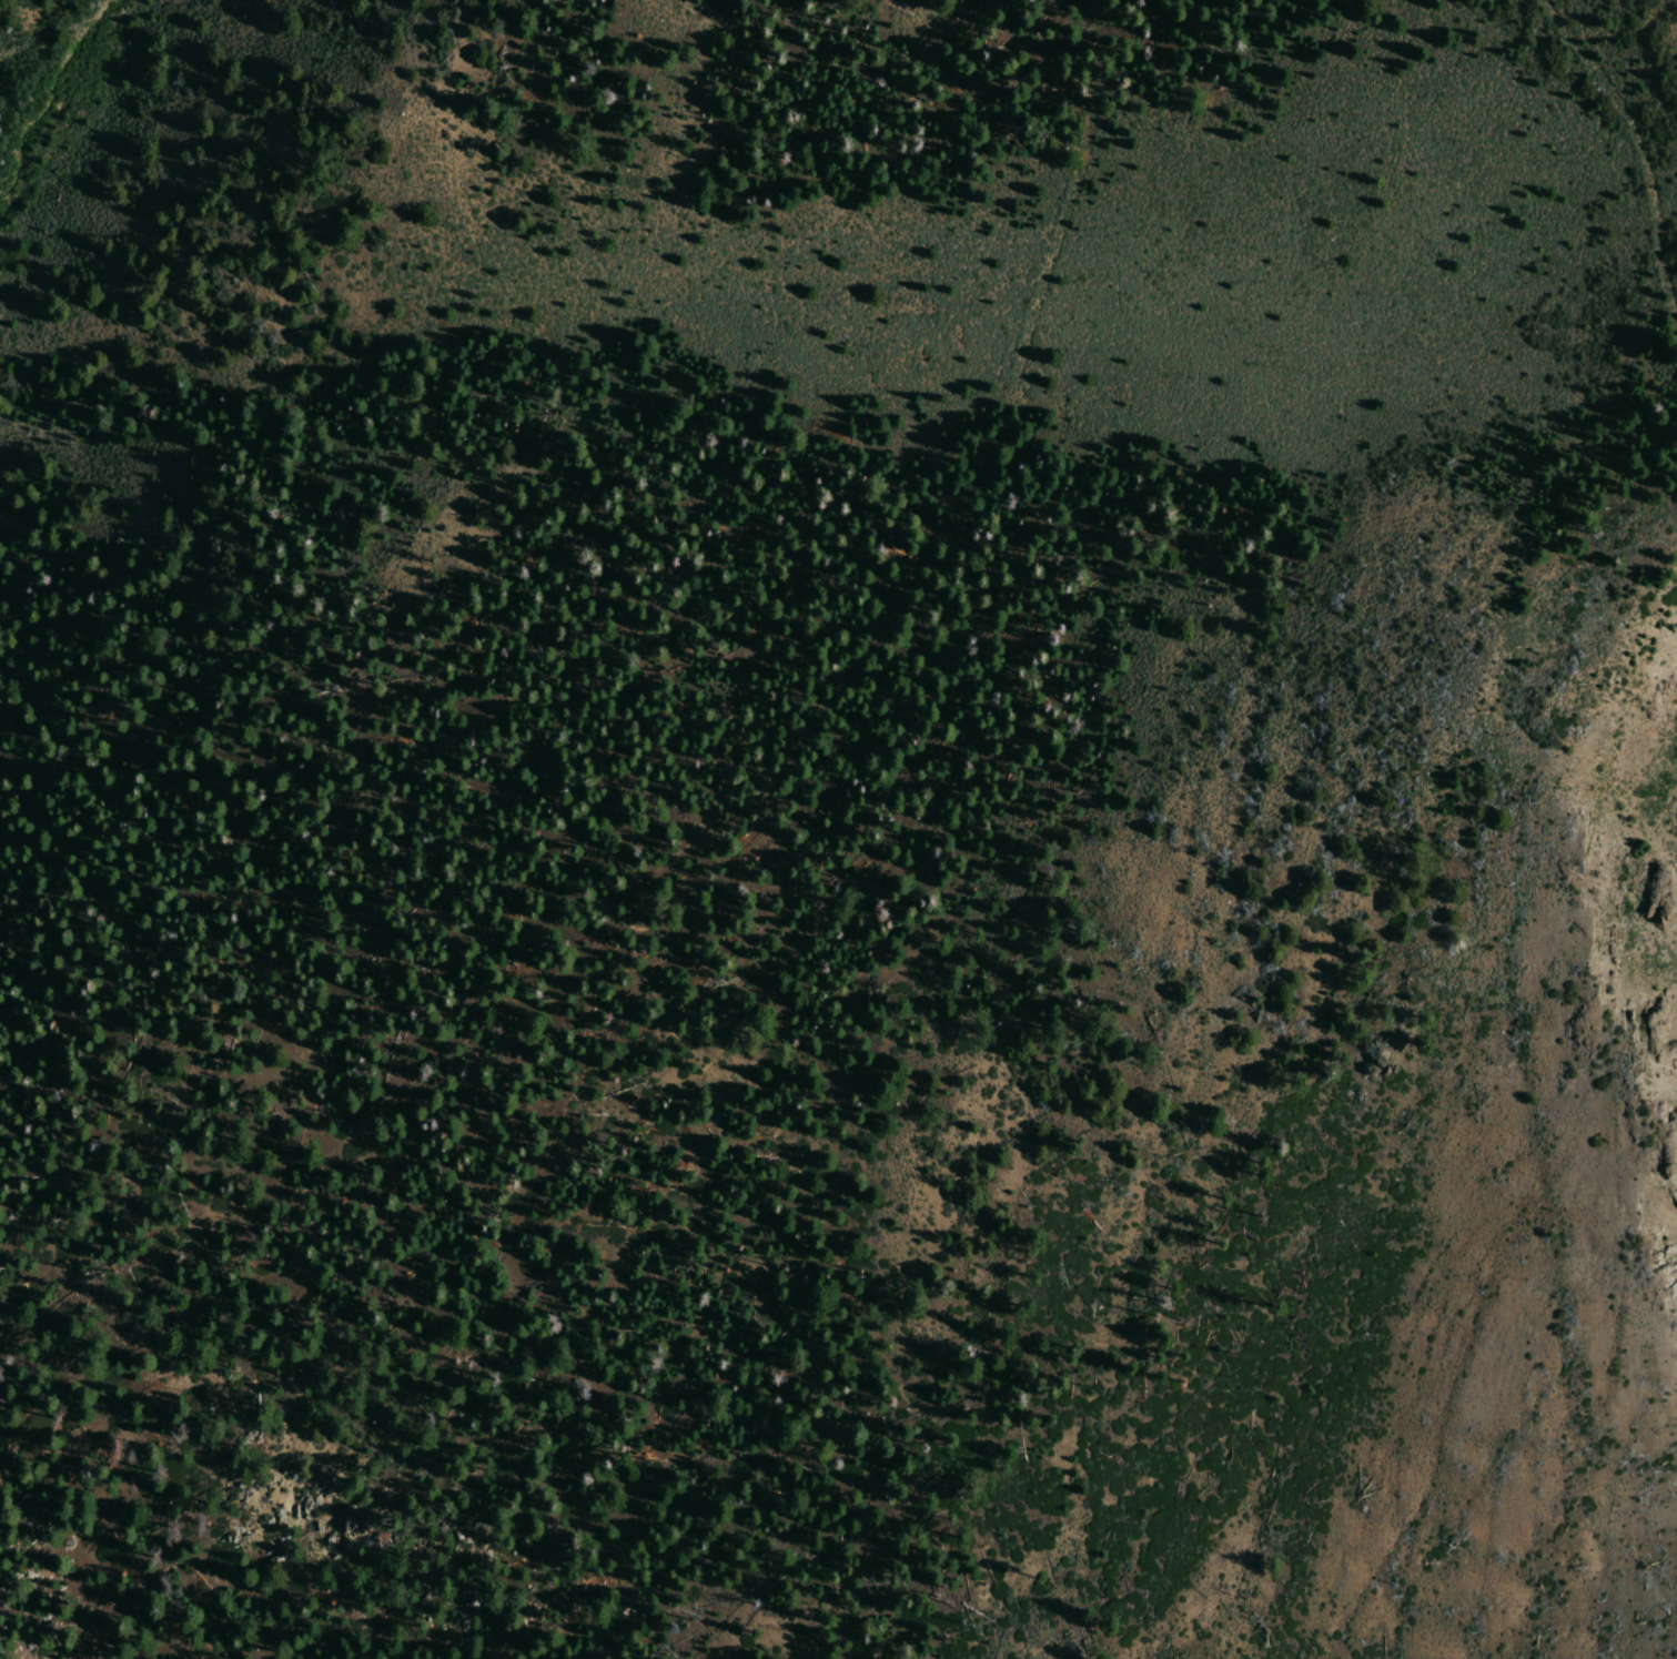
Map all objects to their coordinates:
road: (1638, 161)

